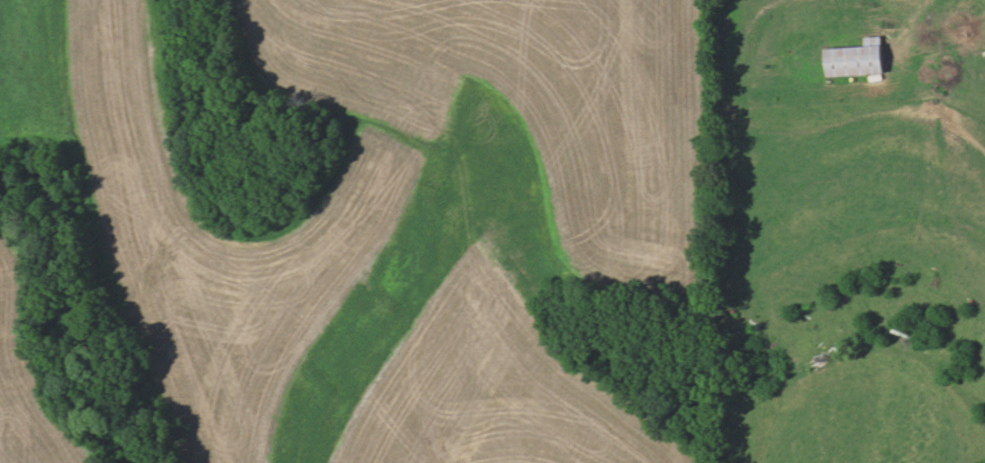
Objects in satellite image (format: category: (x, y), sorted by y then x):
building: (857, 60)
building: (899, 329)

